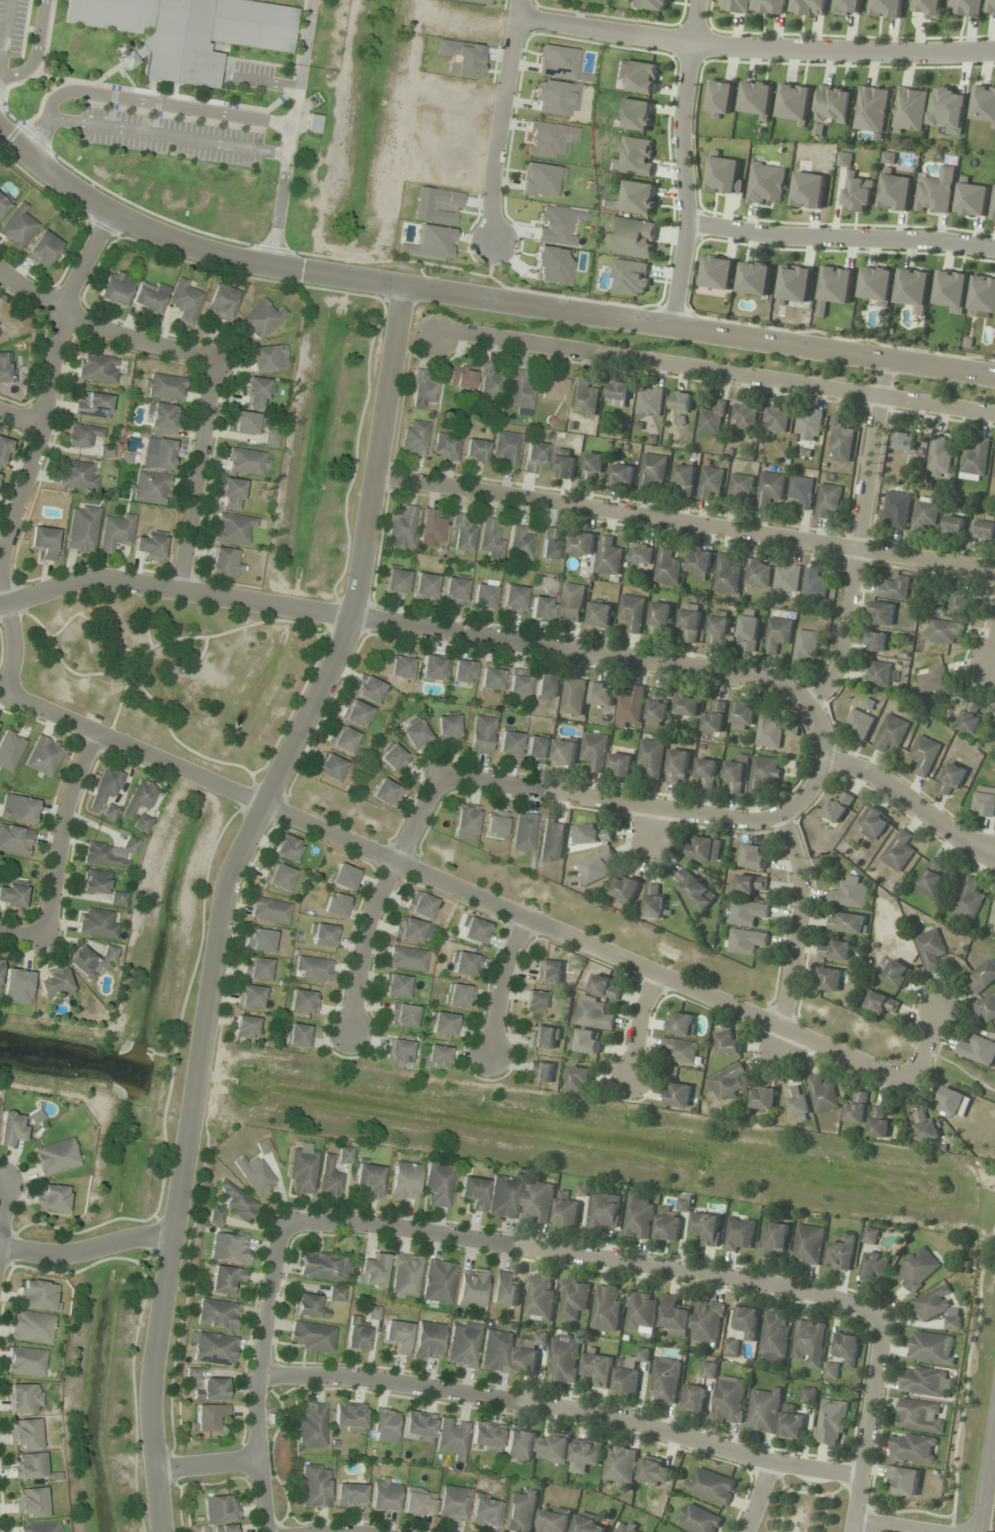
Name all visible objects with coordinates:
building: (650, 4)
building: (735, 6)
building: (771, 6)
building: (848, 7)
building: (965, 7)
building: (991, 7)
building: (887, 8)
building: (927, 8)
building: (187, 32)
road: (754, 48)
building: (554, 61)
building: (636, 77)
building: (553, 97)
building: (756, 98)
building: (720, 99)
building: (794, 102)
building: (984, 104)
building: (833, 105)
building: (871, 109)
building: (908, 110)
building: (635, 114)
building: (314, 123)
road: (499, 123)
building: (548, 139)
building: (844, 159)
road: (681, 165)
building: (724, 175)
building: (540, 178)
building: (766, 183)
building: (808, 190)
building: (895, 192)
building: (857, 193)
building: (935, 193)
building: (972, 199)
building: (3, 202)
building: (993, 212)
building: (17, 227)
building: (633, 237)
road: (839, 239)
building: (43, 248)
building: (717, 272)
building: (754, 278)
building: (876, 284)
building: (836, 285)
building: (794, 286)
building: (115, 289)
building: (913, 289)
building: (951, 291)
building: (149, 296)
building: (982, 297)
building: (185, 300)
building: (220, 301)
road: (480, 301)
building: (261, 319)
road: (100, 329)
building: (268, 358)
building: (6, 367)
building: (97, 368)
road: (714, 370)
building: (462, 378)
building: (490, 384)
building: (164, 387)
building: (555, 387)
building: (522, 389)
building: (423, 390)
building: (257, 391)
building: (619, 391)
building: (585, 397)
building: (649, 401)
building: (681, 402)
building: (93, 406)
road: (21, 416)
building: (744, 416)
building: (160, 419)
building: (712, 419)
building: (775, 419)
building: (247, 422)
building: (808, 424)
building: (83, 435)
building: (271, 437)
building: (415, 437)
building: (840, 441)
building: (905, 442)
building: (446, 445)
building: (507, 448)
road: (38, 449)
building: (3, 450)
building: (475, 451)
building: (158, 453)
building: (534, 456)
building: (938, 458)
building: (974, 460)
building: (247, 461)
building: (563, 464)
building: (593, 467)
building: (652, 471)
building: (994, 473)
building: (78, 475)
road: (195, 475)
building: (622, 476)
building: (684, 480)
building: (709, 481)
building: (149, 487)
building: (740, 487)
building: (769, 489)
building: (801, 491)
building: (231, 494)
building: (828, 502)
building: (896, 509)
building: (923, 514)
road: (684, 522)
building: (954, 525)
building: (433, 526)
building: (82, 528)
building: (233, 528)
building: (402, 528)
building: (983, 528)
building: (116, 531)
building: (463, 532)
building: (490, 540)
road: (857, 540)
building: (44, 542)
building: (520, 542)
building: (582, 543)
building: (150, 545)
building: (550, 546)
building: (640, 554)
building: (609, 557)
building: (225, 563)
building: (699, 564)
building: (667, 566)
building: (757, 572)
building: (727, 575)
building: (787, 577)
building: (396, 582)
building: (813, 585)
building: (424, 587)
building: (892, 588)
building: (454, 591)
building: (484, 595)
building: (513, 599)
building: (572, 603)
building: (958, 603)
building: (541, 609)
building: (632, 613)
building: (881, 614)
building: (600, 615)
building: (660, 620)
building: (690, 622)
building: (718, 627)
road: (434, 628)
building: (778, 631)
building: (943, 631)
building: (748, 634)
building: (876, 641)
building: (805, 646)
road: (993, 648)
building: (400, 666)
building: (431, 669)
building: (462, 671)
park: (174, 673)
building: (879, 674)
building: (490, 678)
building: (933, 679)
building: (518, 681)
building: (546, 687)
building: (367, 688)
building: (603, 694)
building: (574, 696)
building: (687, 704)
building: (631, 705)
building: (744, 713)
building: (357, 714)
building: (971, 717)
building: (715, 718)
building: (858, 724)
building: (447, 728)
building: (768, 729)
building: (891, 733)
building: (415, 734)
building: (481, 735)
building: (343, 739)
building: (509, 744)
building: (537, 749)
building: (10, 750)
building: (595, 751)
building: (565, 753)
building: (924, 755)
building: (44, 756)
building: (651, 757)
building: (393, 758)
building: (621, 763)
building: (678, 767)
building: (331, 768)
building: (706, 772)
building: (763, 773)
building: (736, 774)
building: (951, 778)
building: (106, 787)
building: (386, 793)
road: (902, 797)
building: (139, 799)
road: (597, 799)
building: (985, 802)
building: (837, 808)
building: (18, 809)
building: (110, 813)
building: (465, 822)
building: (142, 823)
building: (873, 823)
building: (495, 824)
road: (61, 831)
building: (524, 831)
building: (594, 834)
building: (15, 840)
building: (551, 841)
road: (987, 845)
building: (287, 848)
building: (705, 849)
building: (898, 851)
building: (110, 854)
road: (986, 856)
building: (752, 857)
building: (594, 868)
building: (279, 876)
building: (344, 877)
building: (932, 879)
building: (95, 881)
building: (749, 884)
road: (456, 889)
building: (625, 890)
building: (695, 890)
building: (850, 893)
building: (12, 896)
road: (224, 897)
building: (118, 899)
building: (969, 899)
building: (653, 904)
building: (335, 905)
building: (421, 905)
building: (270, 910)
building: (747, 913)
road: (795, 918)
building: (994, 920)
building: (846, 922)
building: (97, 923)
building: (474, 930)
building: (412, 931)
road: (23, 932)
building: (323, 935)
building: (260, 940)
road: (363, 942)
building: (746, 942)
building: (930, 949)
building: (836, 951)
building: (407, 959)
building: (90, 961)
building: (465, 964)
building: (0, 965)
building: (313, 968)
building: (258, 969)
building: (548, 971)
building: (897, 974)
building: (982, 977)
road: (500, 979)
building: (828, 979)
building: (55, 984)
building: (17, 986)
building: (396, 986)
building: (604, 987)
building: (459, 995)
building: (252, 997)
building: (302, 1001)
building: (535, 1002)
building: (878, 1002)
building: (987, 1009)
building: (404, 1015)
building: (593, 1015)
road: (636, 1019)
building: (443, 1024)
building: (680, 1024)
building: (245, 1027)
building: (298, 1035)
building: (544, 1037)
road: (776, 1039)
road: (925, 1040)
building: (585, 1041)
building: (728, 1043)
building: (977, 1050)
building: (680, 1051)
building: (398, 1053)
building: (437, 1056)
building: (539, 1072)
building: (577, 1078)
building: (728, 1082)
building: (822, 1094)
building: (678, 1095)
building: (763, 1098)
building: (797, 1101)
building: (953, 1103)
building: (856, 1109)
building: (878, 1124)
building: (11, 1128)
building: (926, 1129)
building: (263, 1146)
building: (345, 1154)
building: (56, 1157)
building: (302, 1170)
building: (254, 1174)
road: (1, 1178)
building: (329, 1178)
building: (369, 1179)
building: (404, 1182)
building: (438, 1183)
building: (473, 1192)
building: (505, 1196)
building: (51, 1198)
building: (237, 1201)
building: (538, 1202)
road: (3, 1203)
building: (565, 1210)
building: (604, 1212)
building: (216, 1216)
building: (638, 1217)
building: (667, 1226)
building: (707, 1228)
building: (739, 1234)
building: (870, 1236)
building: (772, 1239)
building: (808, 1245)
road: (85, 1247)
building: (230, 1248)
building: (841, 1254)
road: (584, 1257)
building: (875, 1265)
building: (322, 1266)
building: (917, 1270)
building: (372, 1271)
building: (405, 1276)
building: (224, 1279)
building: (438, 1282)
building: (471, 1288)
building: (504, 1290)
building: (336, 1293)
building: (38, 1294)
building: (539, 1299)
building: (573, 1299)
building: (309, 1307)
building: (606, 1308)
building: (937, 1308)
building: (641, 1313)
building: (217, 1314)
building: (675, 1316)
building: (707, 1322)
building: (32, 1327)
building: (742, 1330)
building: (397, 1335)
building: (774, 1335)
building: (312, 1336)
building: (356, 1336)
building: (427, 1341)
building: (809, 1343)
building: (463, 1344)
building: (214, 1348)
building: (930, 1348)
building: (847, 1349)
building: (496, 1351)
building: (524, 1358)
building: (564, 1360)
building: (25, 1361)
building: (598, 1370)
building: (708, 1370)
building: (629, 1371)
building: (831, 1371)
road: (257, 1377)
building: (665, 1381)
building: (925, 1382)
building: (212, 1389)
building: (808, 1395)
building: (25, 1398)
building: (693, 1398)
building: (730, 1401)
road: (561, 1408)
building: (764, 1410)
building: (209, 1416)
building: (918, 1416)
building: (349, 1418)
building: (791, 1423)
building: (831, 1423)
road: (865, 1424)
building: (312, 1425)
building: (383, 1426)
building: (418, 1426)
building: (25, 1433)
building: (452, 1437)
building: (486, 1438)
building: (519, 1446)
building: (553, 1449)
building: (912, 1449)
building: (585, 1456)
road: (207, 1463)
building: (29, 1466)
building: (620, 1466)
building: (655, 1472)
road: (986, 1478)
building: (903, 1480)
building: (315, 1486)
building: (712, 1487)
building: (349, 1495)
building: (384, 1495)
road: (756, 1496)
building: (31, 1502)
building: (418, 1502)
building: (453, 1503)
park: (803, 1506)
building: (220, 1508)
building: (486, 1511)
building: (521, 1511)
building: (698, 1519)
building: (554, 1520)
building: (588, 1525)
road: (901, 1525)
building: (41, 1527)
building: (628, 1527)
building: (227, 1528)
road: (323, 1531)

